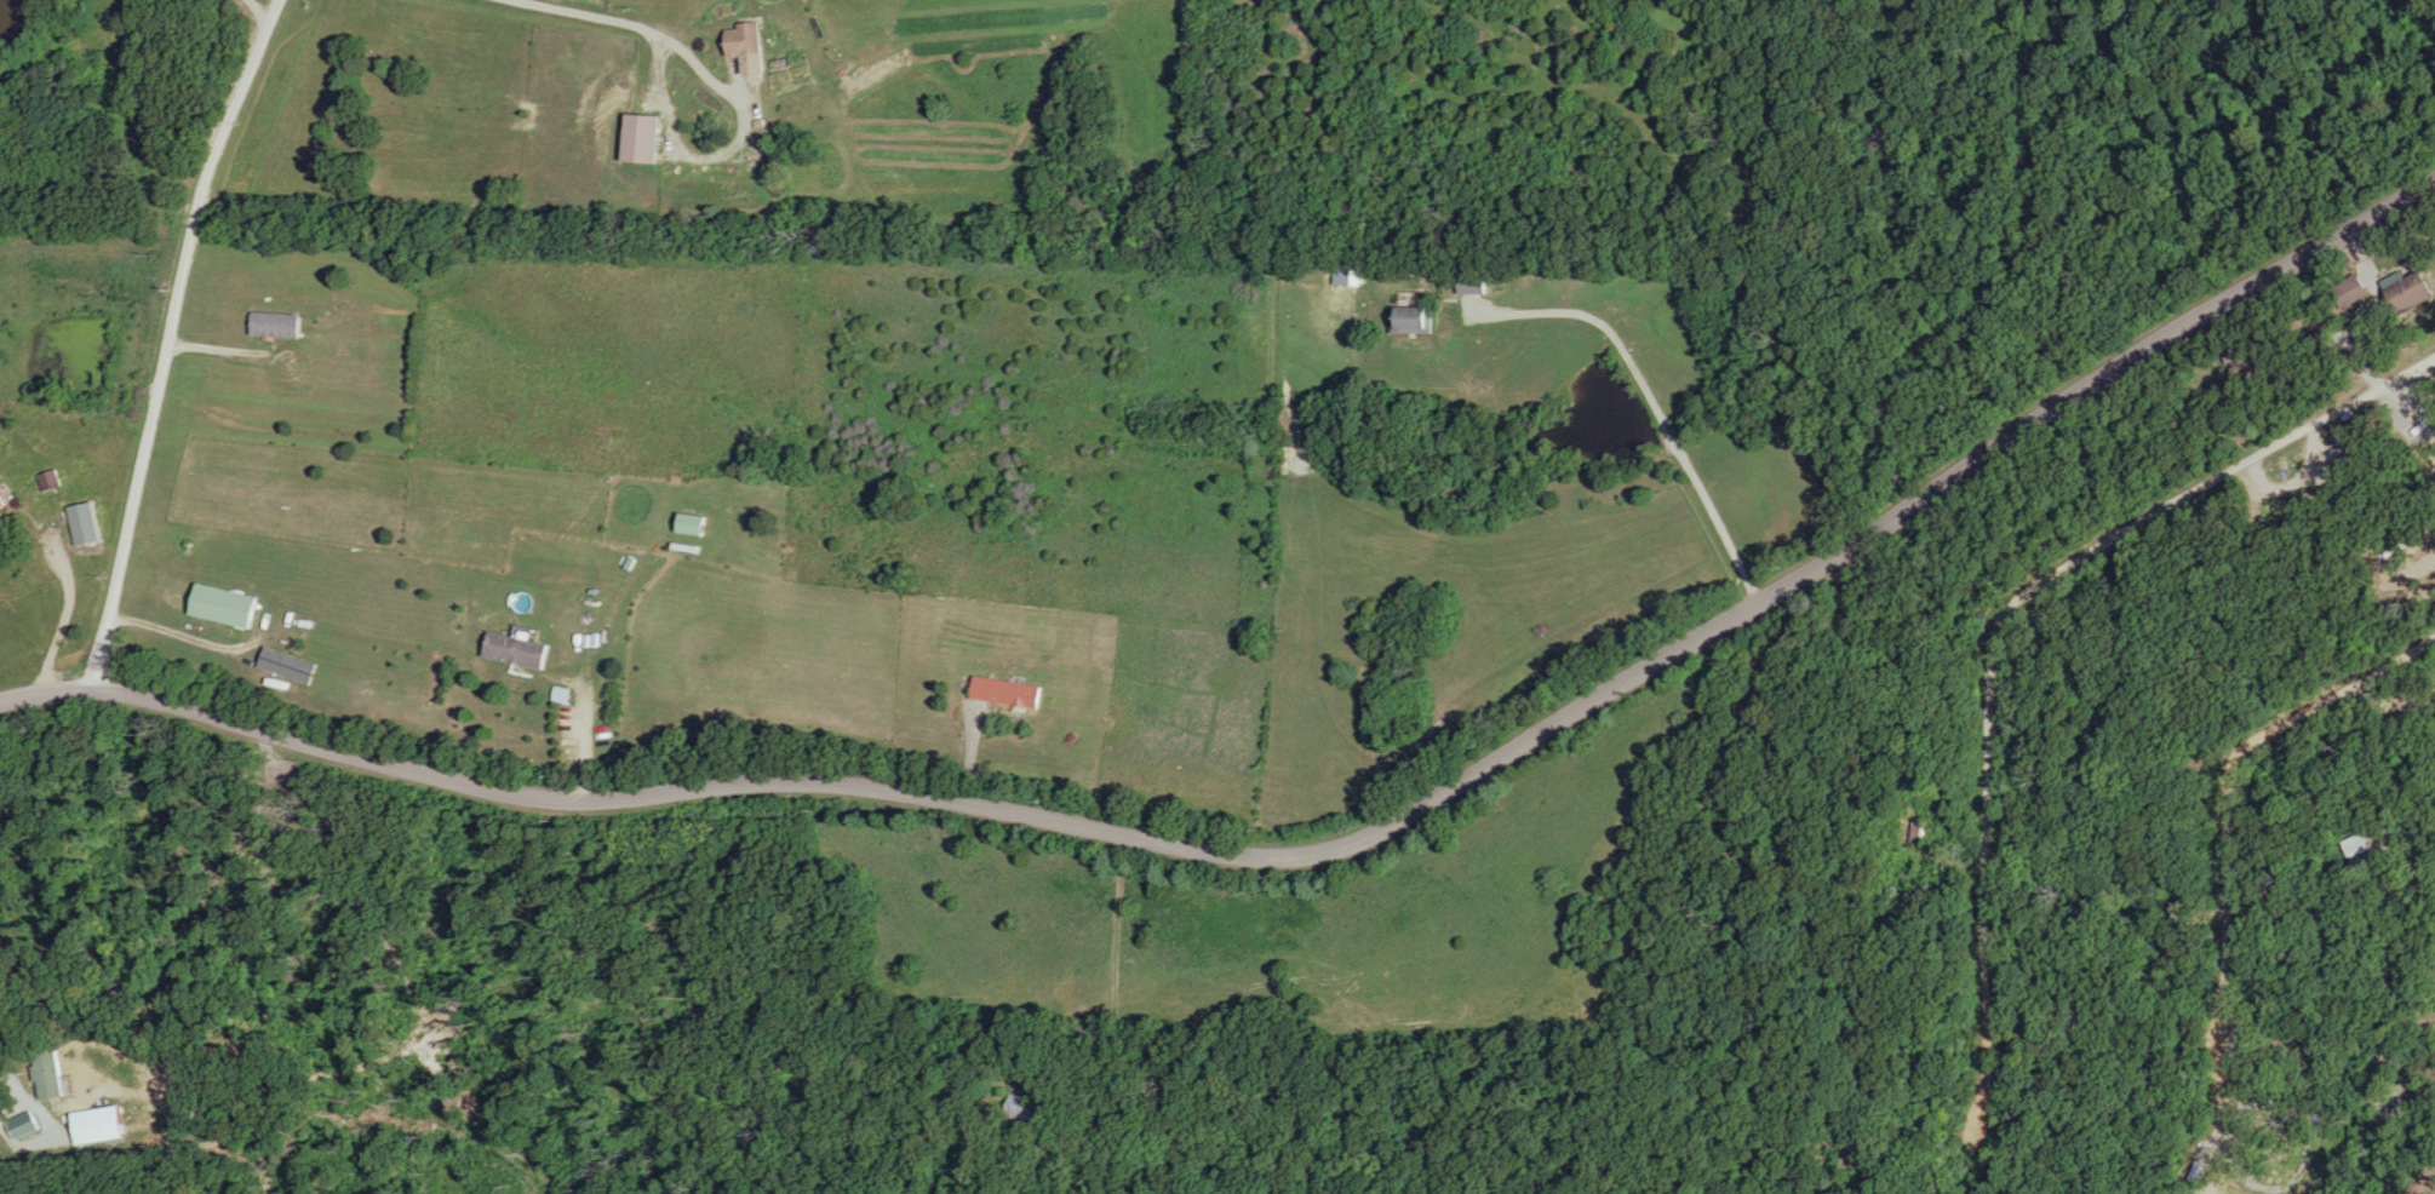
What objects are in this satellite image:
road: (260, 7)
road: (634, 25)
building: (746, 41)
building: (643, 138)
building: (1348, 274)
building: (1473, 283)
building: (2357, 286)
building: (2414, 293)
building: (1415, 320)
building: (277, 325)
road: (164, 340)
road: (1651, 406)
building: (51, 482)
building: (2, 504)
building: (85, 526)
building: (691, 526)
road: (2051, 574)
building: (227, 605)
road: (62, 620)
building: (520, 649)
building: (1009, 691)
road: (588, 750)
road: (2224, 834)
road: (1300, 853)
road: (1887, 866)
building: (51, 1074)
building: (1026, 1108)
building: (27, 1124)
building: (99, 1126)

